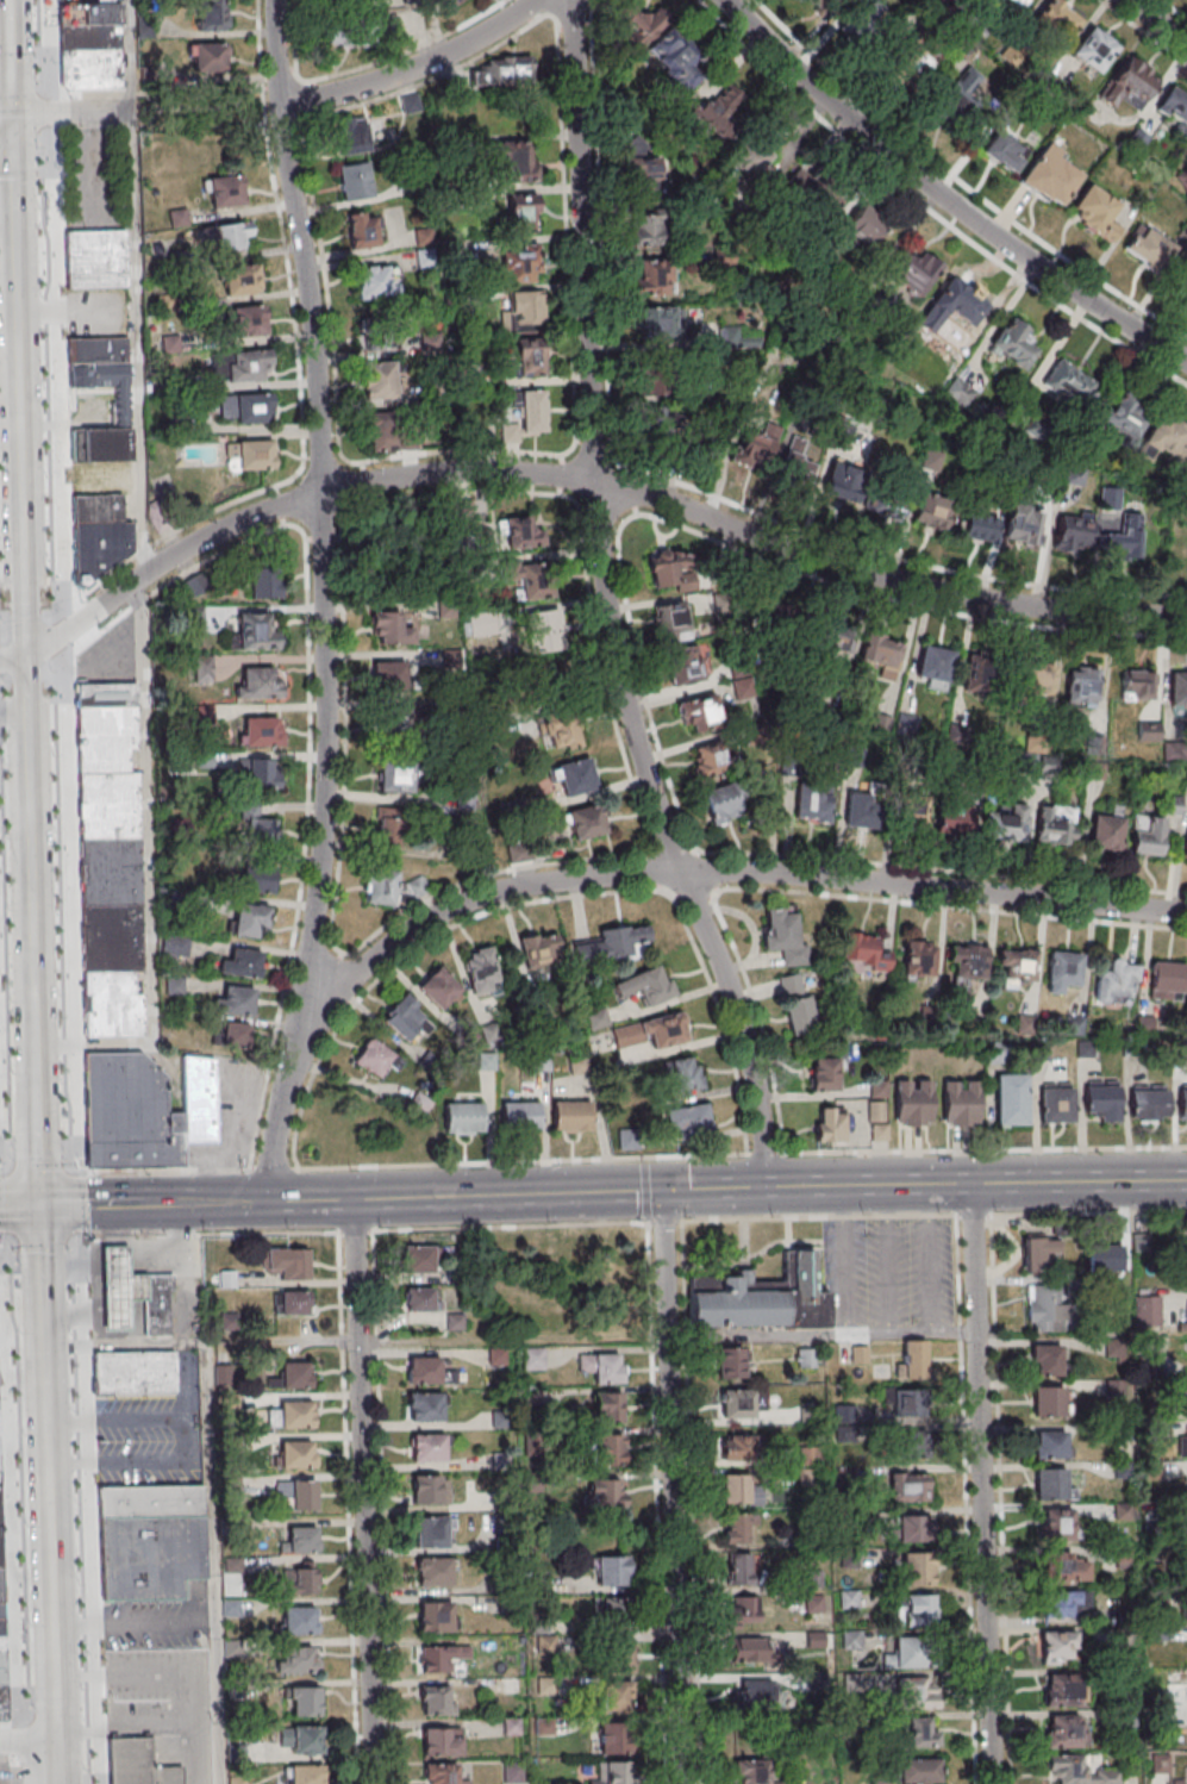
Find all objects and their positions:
building: (1016, 2)
building: (823, 4)
street lamp: (33, 10)
building: (211, 15)
building: (89, 17)
building: (1060, 20)
building: (862, 21)
road: (1156, 21)
parking lot: (26, 24)
building: (645, 27)
building: (344, 33)
building: (90, 39)
road: (38, 40)
road: (49, 40)
building: (1095, 50)
road: (15, 52)
road: (40, 52)
road: (11, 55)
building: (208, 56)
building: (671, 61)
building: (914, 62)
road: (367, 66)
road: (413, 67)
building: (90, 71)
building: (507, 71)
street lamp: (35, 81)
building: (1131, 83)
road: (45, 89)
building: (960, 101)
building: (723, 106)
road: (6, 107)
building: (1174, 107)
road: (45, 111)
road: (73, 111)
traffic signals: (12, 112)
road: (6, 118)
building: (351, 136)
road: (46, 148)
street lamp: (37, 151)
building: (1005, 151)
building: (511, 154)
road: (17, 171)
road: (40, 171)
building: (644, 175)
building: (1050, 175)
parking lot: (96, 177)
building: (355, 180)
building: (226, 191)
building: (818, 191)
road: (944, 197)
road: (14, 208)
parking lot: (31, 208)
building: (521, 212)
building: (1098, 212)
building: (866, 227)
building: (362, 230)
building: (646, 230)
building: (227, 235)
building: (1149, 249)
building: (96, 261)
building: (519, 264)
building: (913, 272)
building: (654, 276)
building: (244, 280)
building: (376, 282)
road: (136, 286)
building: (1186, 289)
street lamp: (40, 295)
building: (954, 305)
building: (525, 312)
parking lot: (96, 313)
building: (248, 322)
building: (658, 323)
building: (379, 333)
building: (1013, 343)
parking lot: (1, 353)
building: (527, 361)
building: (244, 366)
parking lot: (35, 373)
road: (299, 375)
building: (379, 382)
building: (1068, 382)
street lamp: (43, 387)
road: (55, 389)
road: (46, 391)
road: (19, 394)
building: (656, 403)
building: (252, 407)
building: (1125, 417)
building: (529, 418)
building: (392, 433)
building: (1169, 438)
building: (751, 450)
building: (255, 454)
building: (101, 460)
street lamp: (45, 476)
building: (843, 479)
road: (591, 485)
parking lot: (4, 499)
building: (935, 510)
building: (486, 513)
parking lot: (38, 514)
building: (980, 524)
building: (1022, 526)
building: (398, 529)
building: (1069, 534)
building: (527, 535)
building: (1119, 542)
street lamp: (46, 560)
building: (668, 567)
road: (23, 570)
building: (264, 582)
building: (535, 585)
road: (321, 600)
road: (605, 604)
road: (46, 611)
road: (5, 612)
road: (23, 612)
building: (767, 615)
road: (57, 616)
street lamp: (0, 620)
building: (677, 625)
building: (386, 628)
building: (255, 630)
building: (537, 632)
road: (57, 635)
building: (885, 655)
parking lot: (106, 657)
road: (12, 659)
road: (58, 666)
building: (935, 666)
building: (685, 667)
street lamp: (49, 670)
building: (977, 673)
building: (388, 676)
building: (1037, 678)
street lamp: (1, 680)
road: (49, 682)
building: (258, 682)
road: (6, 684)
road: (25, 684)
building: (1137, 685)
building: (1082, 686)
building: (1177, 688)
road: (307, 709)
building: (699, 715)
building: (263, 730)
building: (392, 730)
building: (566, 732)
building: (1149, 732)
road: (27, 746)
street lamp: (52, 755)
building: (710, 761)
street lamp: (4, 763)
building: (258, 772)
building: (576, 776)
building: (394, 778)
parking lot: (45, 780)
building: (723, 806)
building: (813, 806)
building: (862, 810)
building: (913, 812)
building: (952, 821)
building: (1012, 821)
building: (587, 822)
building: (391, 824)
building: (1054, 824)
building: (260, 830)
street lamp: (54, 831)
building: (1106, 834)
parking lot: (12, 836)
street lamp: (6, 837)
building: (1148, 837)
building: (1186, 843)
building: (110, 861)
road: (146, 871)
building: (256, 873)
road: (664, 874)
building: (381, 888)
road: (816, 893)
road: (693, 897)
road: (675, 898)
road: (711, 898)
road: (542, 899)
road: (31, 903)
street lamp: (7, 910)
street lamp: (56, 913)
building: (250, 921)
road: (60, 922)
road: (73, 922)
building: (785, 936)
building: (608, 943)
building: (175, 946)
building: (538, 949)
building: (864, 952)
building: (918, 959)
parking lot: (50, 960)
building: (1017, 963)
building: (970, 965)
building: (480, 968)
building: (1063, 971)
road: (5, 974)
building: (1166, 980)
building: (1116, 983)
building: (791, 984)
building: (645, 985)
building: (174, 986)
building: (437, 987)
street lamp: (57, 993)
building: (236, 999)
street lamp: (10, 1002)
building: (800, 1016)
building: (404, 1017)
building: (596, 1018)
parking lot: (17, 1019)
road: (35, 1027)
building: (650, 1031)
building: (235, 1035)
building: (375, 1056)
building: (485, 1060)
building: (539, 1062)
building: (577, 1063)
street lamp: (12, 1073)
building: (824, 1073)
building: (685, 1074)
street lamp: (60, 1083)
building: (198, 1098)
building: (1011, 1099)
building: (1101, 1100)
building: (418, 1102)
building: (913, 1102)
building: (961, 1103)
building: (1056, 1103)
building: (1149, 1104)
building: (1182, 1105)
building: (570, 1114)
building: (129, 1115)
building: (462, 1116)
building: (519, 1116)
parking lot: (231, 1118)
building: (688, 1119)
building: (830, 1124)
building: (627, 1139)
road: (38, 1142)
street lamp: (13, 1148)
road: (982, 1148)
street lamp: (63, 1150)
road: (764, 1153)
road: (1, 1161)
road: (520, 1161)
road: (8, 1164)
road: (38, 1164)
road: (67, 1164)
road: (273, 1168)
road: (2, 1169)
road: (73, 1169)
road: (163, 1169)
road: (1, 1173)
road: (924, 1183)
traffic signals: (663, 1189)
road: (508, 1193)
road: (308, 1199)
road: (199, 1200)
road: (240, 1200)
road: (2, 1202)
road: (88, 1202)
road: (158, 1202)
road: (74, 1203)
road: (19, 1204)
traffic signals: (40, 1204)
road: (1086, 1212)
road: (972, 1215)
road: (817, 1216)
road: (664, 1221)
road: (508, 1225)
road: (354, 1230)
road: (114, 1231)
road: (207, 1234)
road: (75, 1236)
road: (4, 1237)
road: (1, 1240)
road: (69, 1243)
road: (42, 1245)
road: (11, 1246)
road: (1, 1249)
street lamp: (68, 1250)
building: (1038, 1254)
road: (888, 1258)
building: (420, 1259)
road: (844, 1259)
road: (930, 1259)
building: (1104, 1259)
street lamp: (17, 1262)
road: (111, 1262)
building: (285, 1262)
building: (118, 1291)
building: (762, 1298)
building: (420, 1299)
building: (290, 1303)
building: (155, 1308)
building: (1047, 1310)
building: (1148, 1311)
road: (43, 1314)
street lamp: (19, 1333)
street lamp: (70, 1334)
road: (183, 1339)
road: (617, 1340)
building: (914, 1356)
building: (532, 1359)
building: (1047, 1361)
building: (730, 1364)
building: (602, 1367)
building: (427, 1371)
building: (133, 1373)
building: (292, 1376)
building: (1049, 1401)
building: (910, 1403)
building: (737, 1404)
building: (424, 1406)
building: (608, 1406)
street lamp: (73, 1411)
building: (295, 1414)
road: (115, 1421)
parking lot: (151, 1434)
street lamp: (23, 1435)
building: (1182, 1440)
building: (910, 1442)
building: (1049, 1445)
building: (427, 1447)
building: (737, 1447)
building: (610, 1449)
road: (48, 1454)
building: (296, 1454)
road: (167, 1460)
road: (1044, 1466)
road: (980, 1483)
building: (1051, 1483)
road: (20, 1484)
road: (671, 1486)
building: (911, 1487)
building: (425, 1489)
building: (738, 1490)
road: (363, 1491)
building: (606, 1493)
building: (300, 1495)
parking lot: (32, 1497)
street lamp: (76, 1503)
building: (151, 1505)
road: (380, 1507)
road: (346, 1508)
road: (7, 1509)
road: (79, 1512)
road: (88, 1512)
building: (1061, 1524)
street lamp: (26, 1526)
building: (736, 1528)
building: (913, 1528)
building: (435, 1532)
building: (298, 1539)
building: (150, 1559)
parking lot: (69, 1561)
road: (213, 1561)
building: (1068, 1566)
building: (742, 1570)
building: (917, 1570)
building: (435, 1571)
building: (612, 1571)
building: (301, 1580)
street lamp: (79, 1584)
building: (0, 1595)
building: (1066, 1603)
building: (917, 1610)
building: (744, 1611)
road: (52, 1613)
building: (0, 1615)
building: (435, 1616)
building: (300, 1620)
parking lot: (158, 1622)
road: (135, 1623)
street lamp: (30, 1626)
building: (614, 1635)
building: (1, 1640)
building: (1058, 1647)
building: (751, 1651)
building: (910, 1654)
building: (438, 1657)
building: (299, 1660)
building: (1, 1672)
street lamp: (81, 1689)
building: (1061, 1690)
building: (916, 1692)
building: (754, 1695)
building: (2, 1696)
building: (617, 1697)
building: (302, 1701)
building: (435, 1701)
parking lot: (164, 1704)
street lamp: (31, 1707)
road: (88, 1708)
road: (56, 1710)
building: (2, 1714)
road: (24, 1715)
building: (1067, 1730)
road: (43, 1732)
building: (922, 1734)
road: (27, 1739)
building: (300, 1739)
building: (614, 1739)
road: (13, 1740)
building: (442, 1741)
road: (6, 1759)
street lamp: (18, 1761)
road: (58, 1761)
building: (137, 1764)
parking lot: (76, 1767)
road: (12, 1769)
building: (1067, 1769)
street lamp: (83, 1771)
building: (755, 1771)
building: (920, 1771)
building: (513, 1772)
building: (442, 1773)
building: (612, 1773)
parking lot: (4, 1774)
building: (304, 1774)
building: (1106, 1776)

